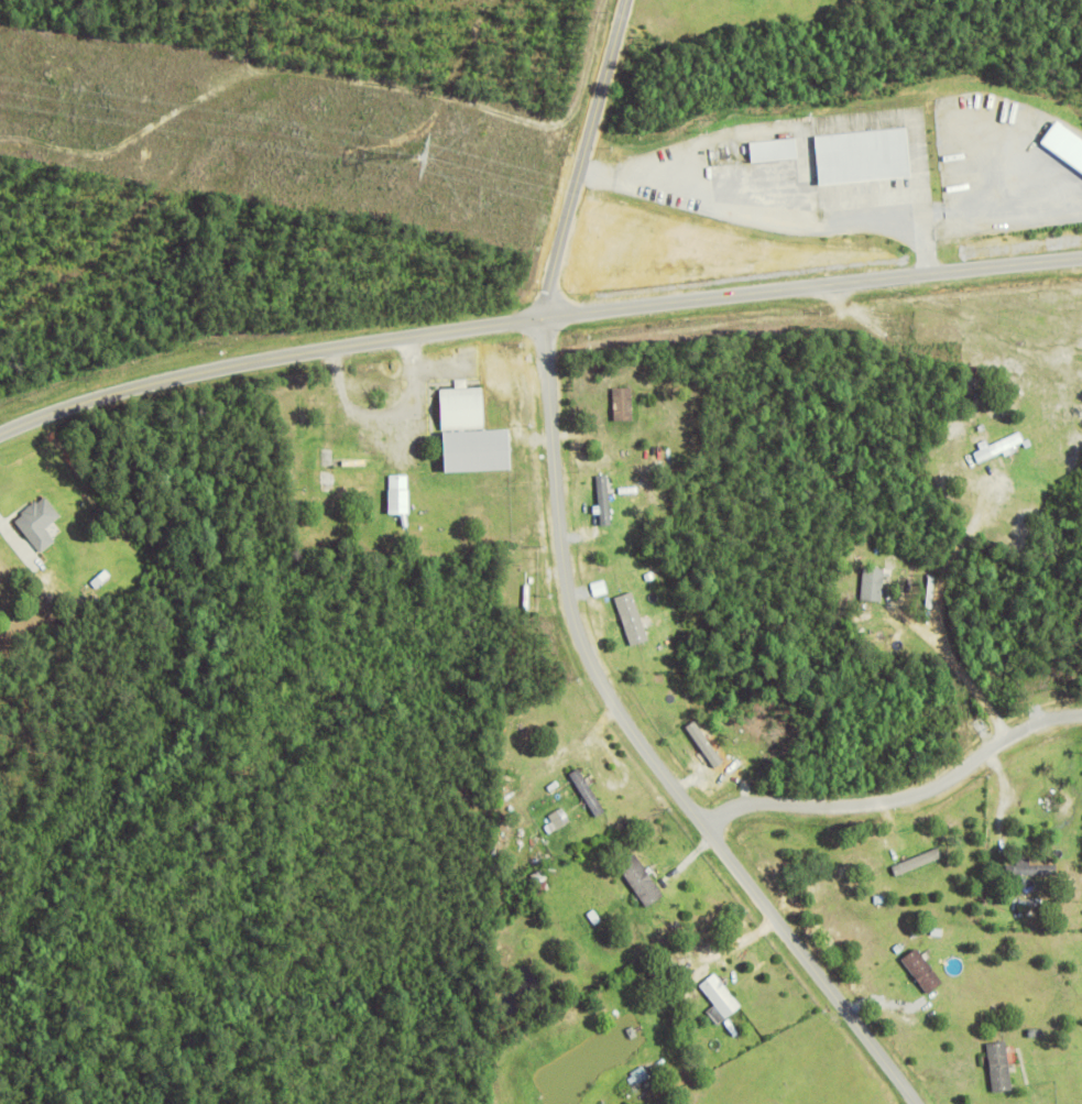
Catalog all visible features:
building: (1067, 142)
building: (778, 149)
building: (868, 155)
power tower: (425, 157)
road: (582, 157)
road: (535, 319)
building: (467, 404)
building: (623, 406)
building: (482, 450)
building: (998, 450)
building: (360, 463)
building: (933, 468)
building: (400, 474)
building: (605, 495)
building: (400, 506)
building: (418, 512)
building: (42, 522)
building: (651, 575)
building: (873, 581)
building: (600, 587)
building: (527, 595)
building: (633, 615)
road: (644, 746)
building: (588, 788)
road: (903, 798)
building: (561, 817)
building: (918, 859)
building: (1030, 866)
building: (641, 876)
building: (542, 879)
building: (879, 897)
building: (1026, 903)
building: (594, 915)
building: (922, 968)
building: (681, 985)
building: (718, 993)
building: (1036, 1032)
building: (1002, 1063)

